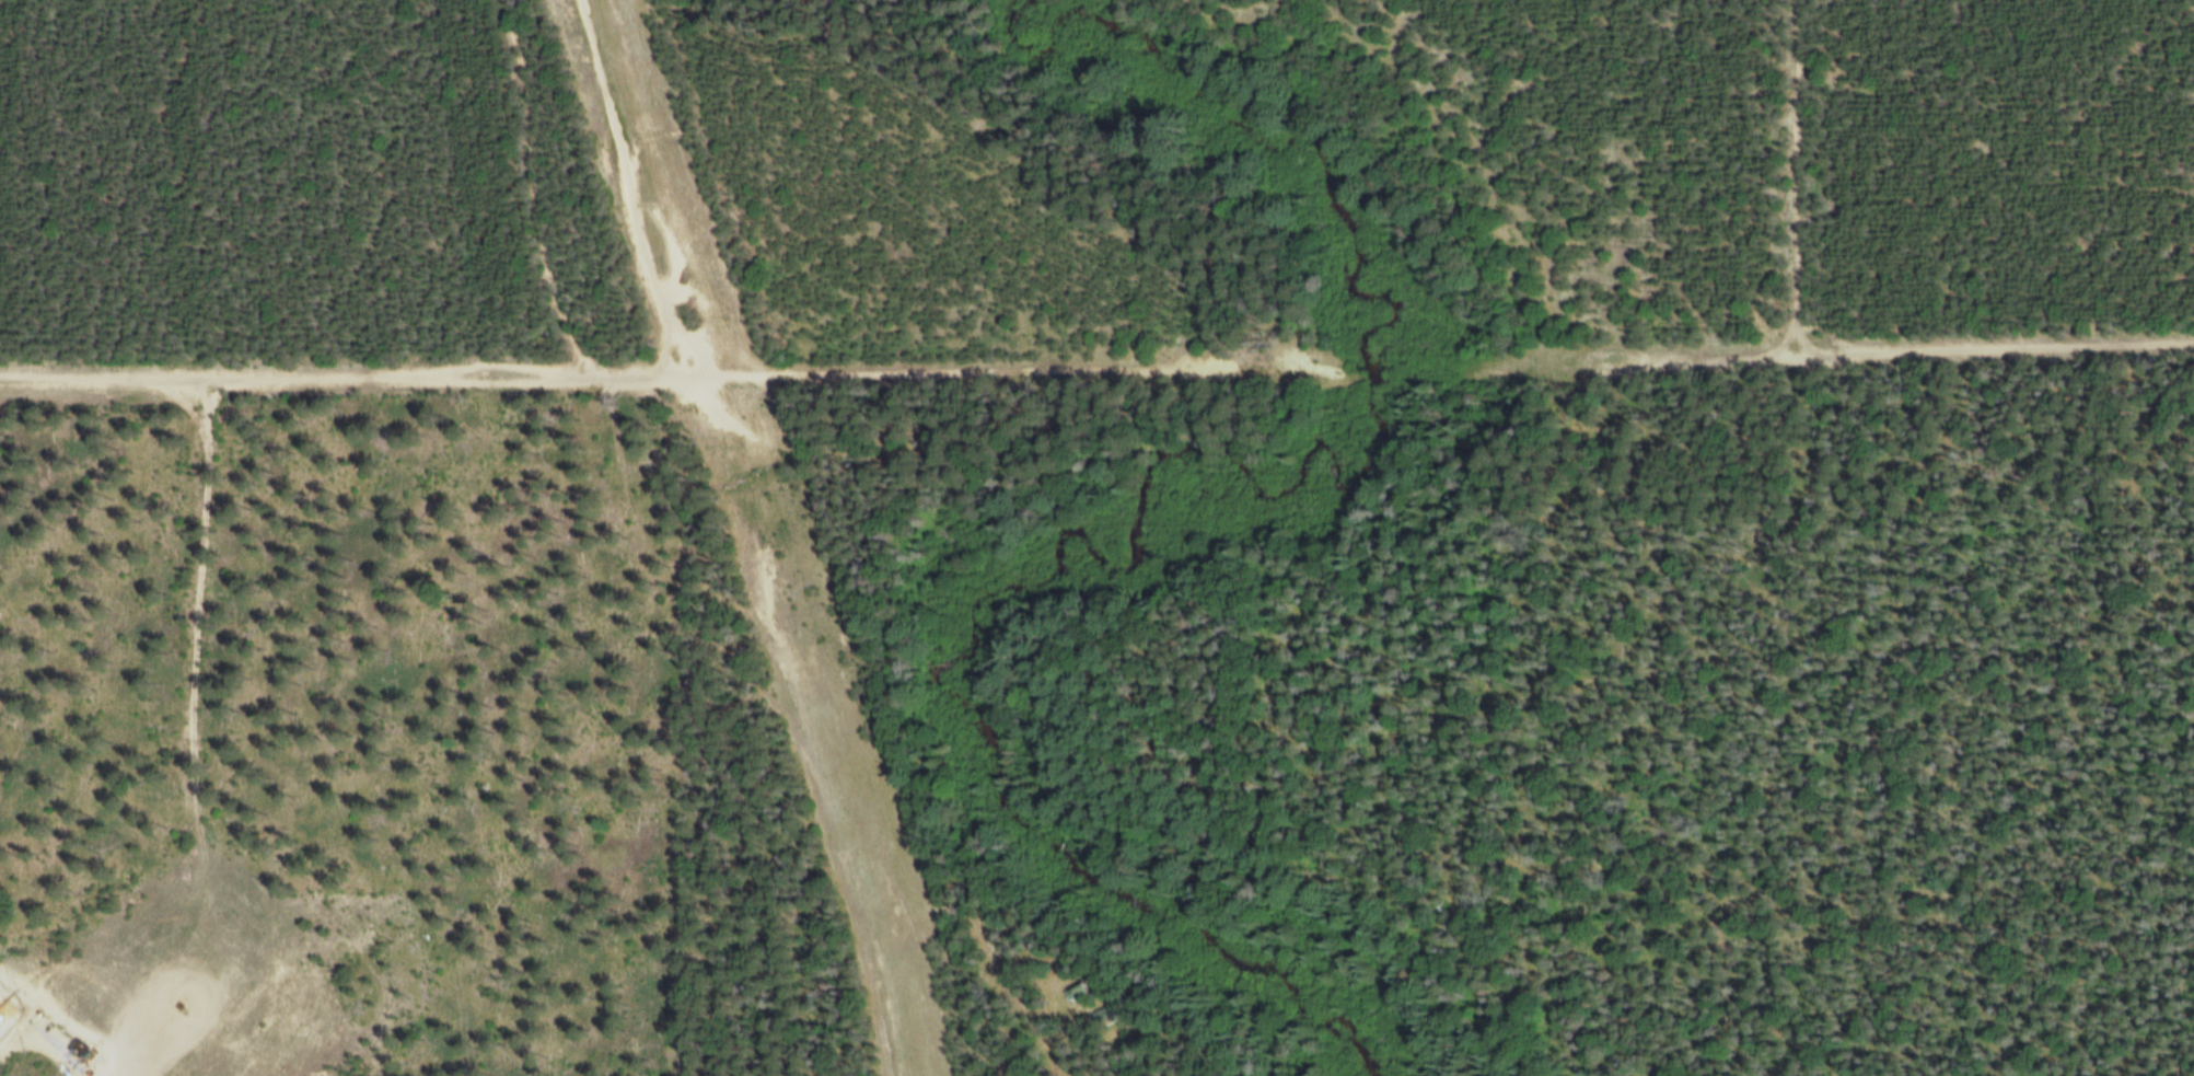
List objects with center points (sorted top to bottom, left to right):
road: (1785, 182)
road: (630, 187)
road: (1912, 355)
road: (620, 381)
road: (673, 591)
road: (1664, 733)
road: (186, 736)
building: (1073, 988)

